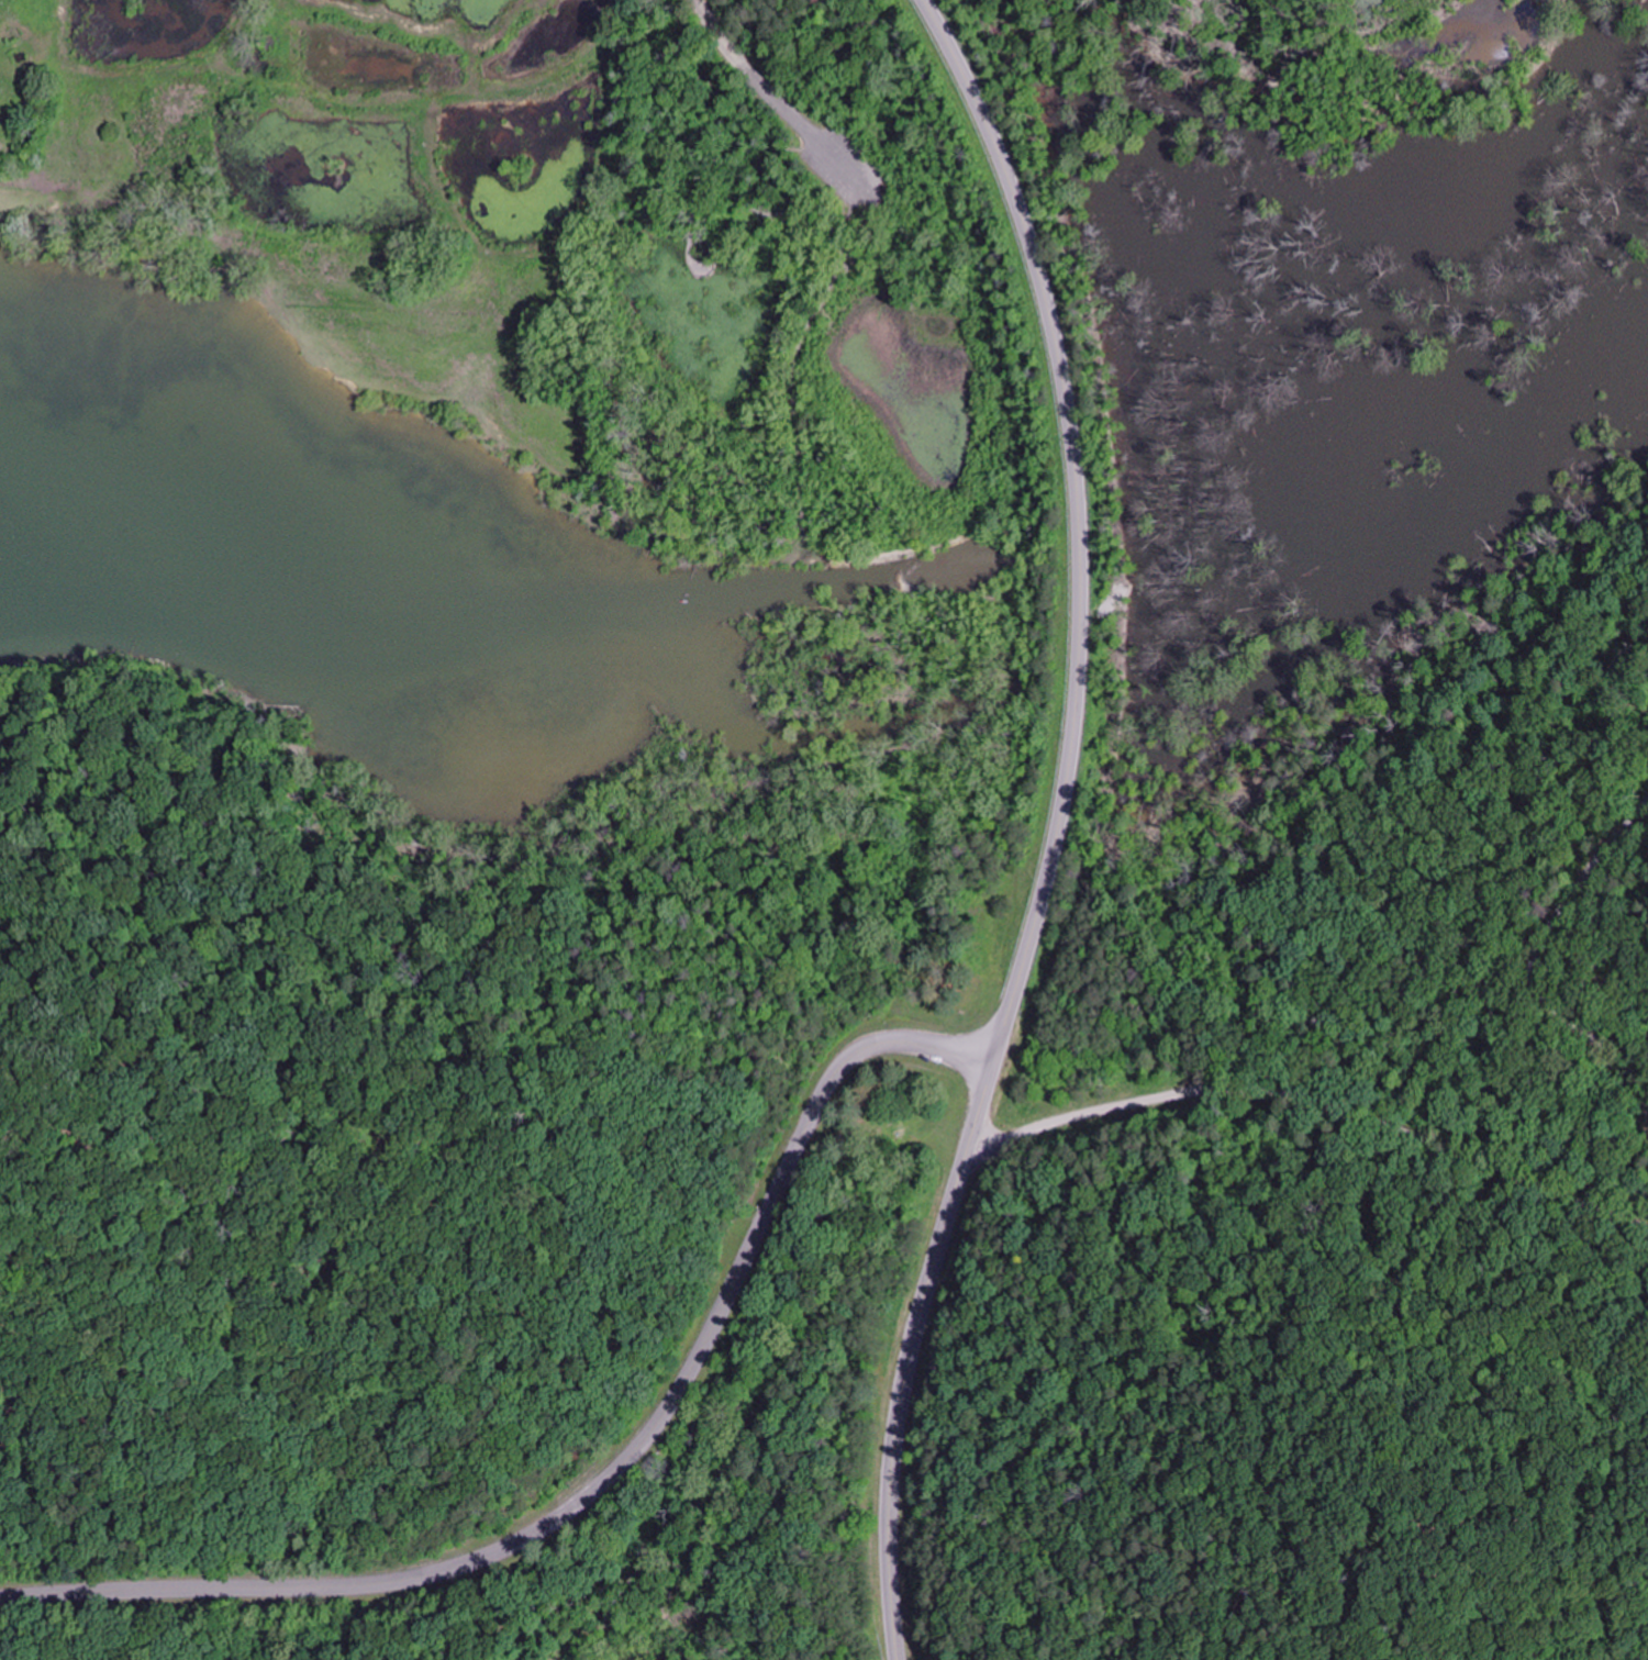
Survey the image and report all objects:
road: (1599, 91)
road: (771, 94)
road: (700, 136)
parking lot: (843, 164)
road: (694, 208)
pier: (689, 254)
road: (797, 420)
road: (1058, 826)
road: (1535, 958)
road: (1312, 1101)
road: (609, 1478)

